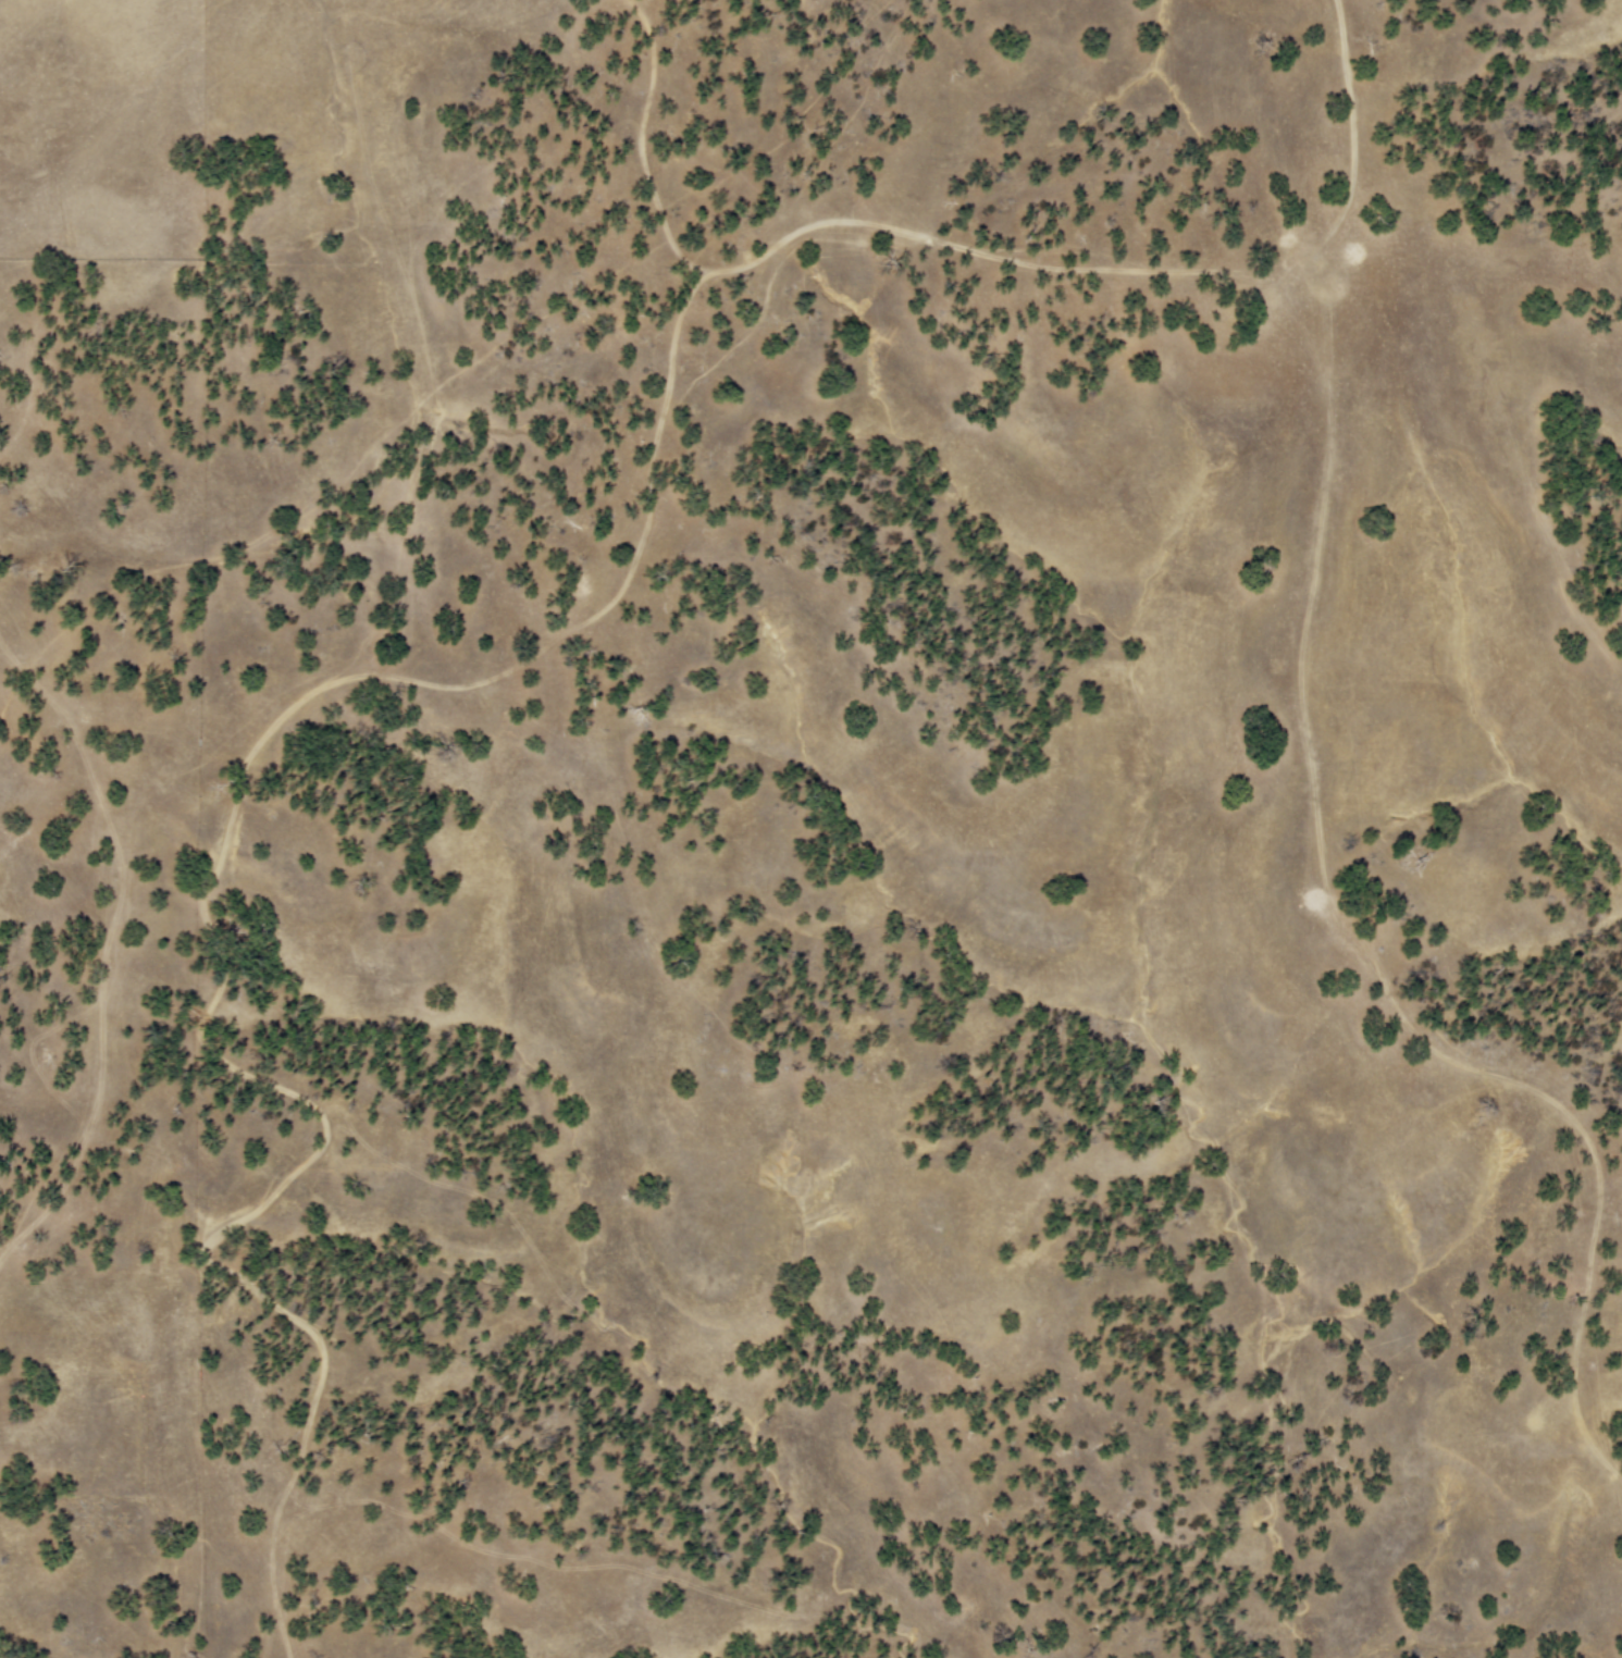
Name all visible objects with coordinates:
road: (641, 135)
road: (1125, 270)
road: (703, 276)
road: (429, 367)
road: (199, 906)
road: (100, 1047)

